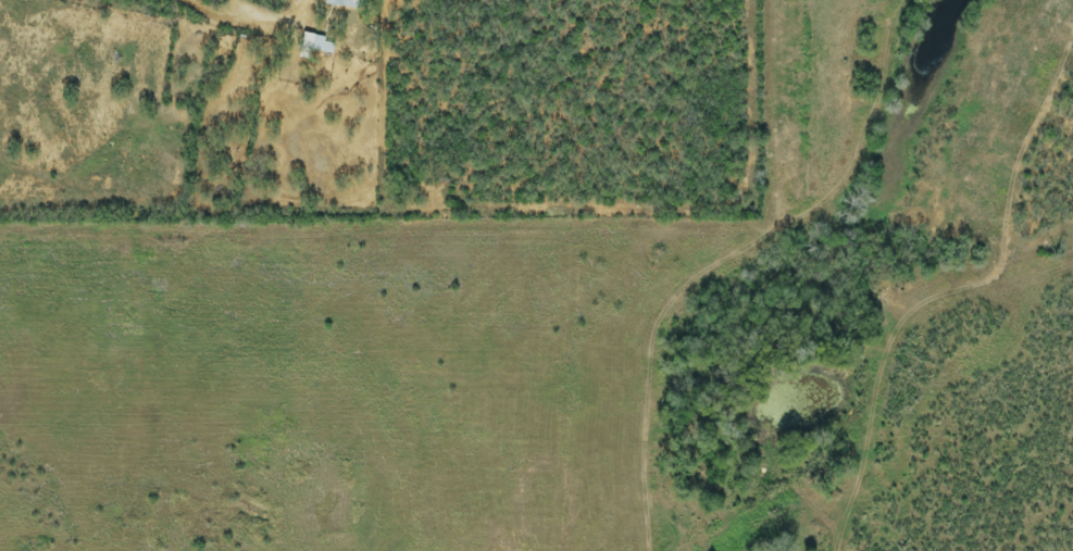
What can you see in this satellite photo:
building: (341, 3)
building: (317, 46)

